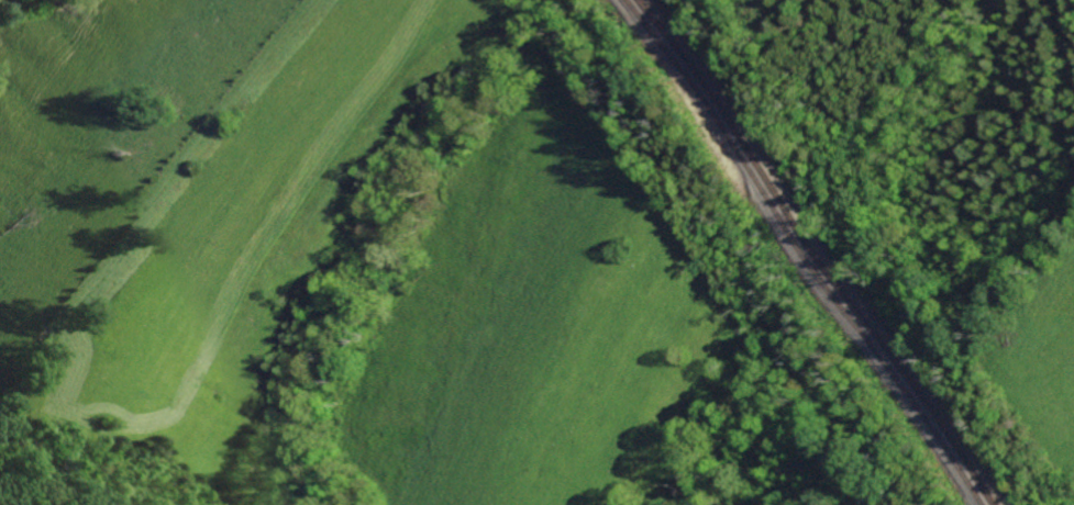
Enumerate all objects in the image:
road: (921, 100)
railway: (809, 252)
railway: (821, 252)

